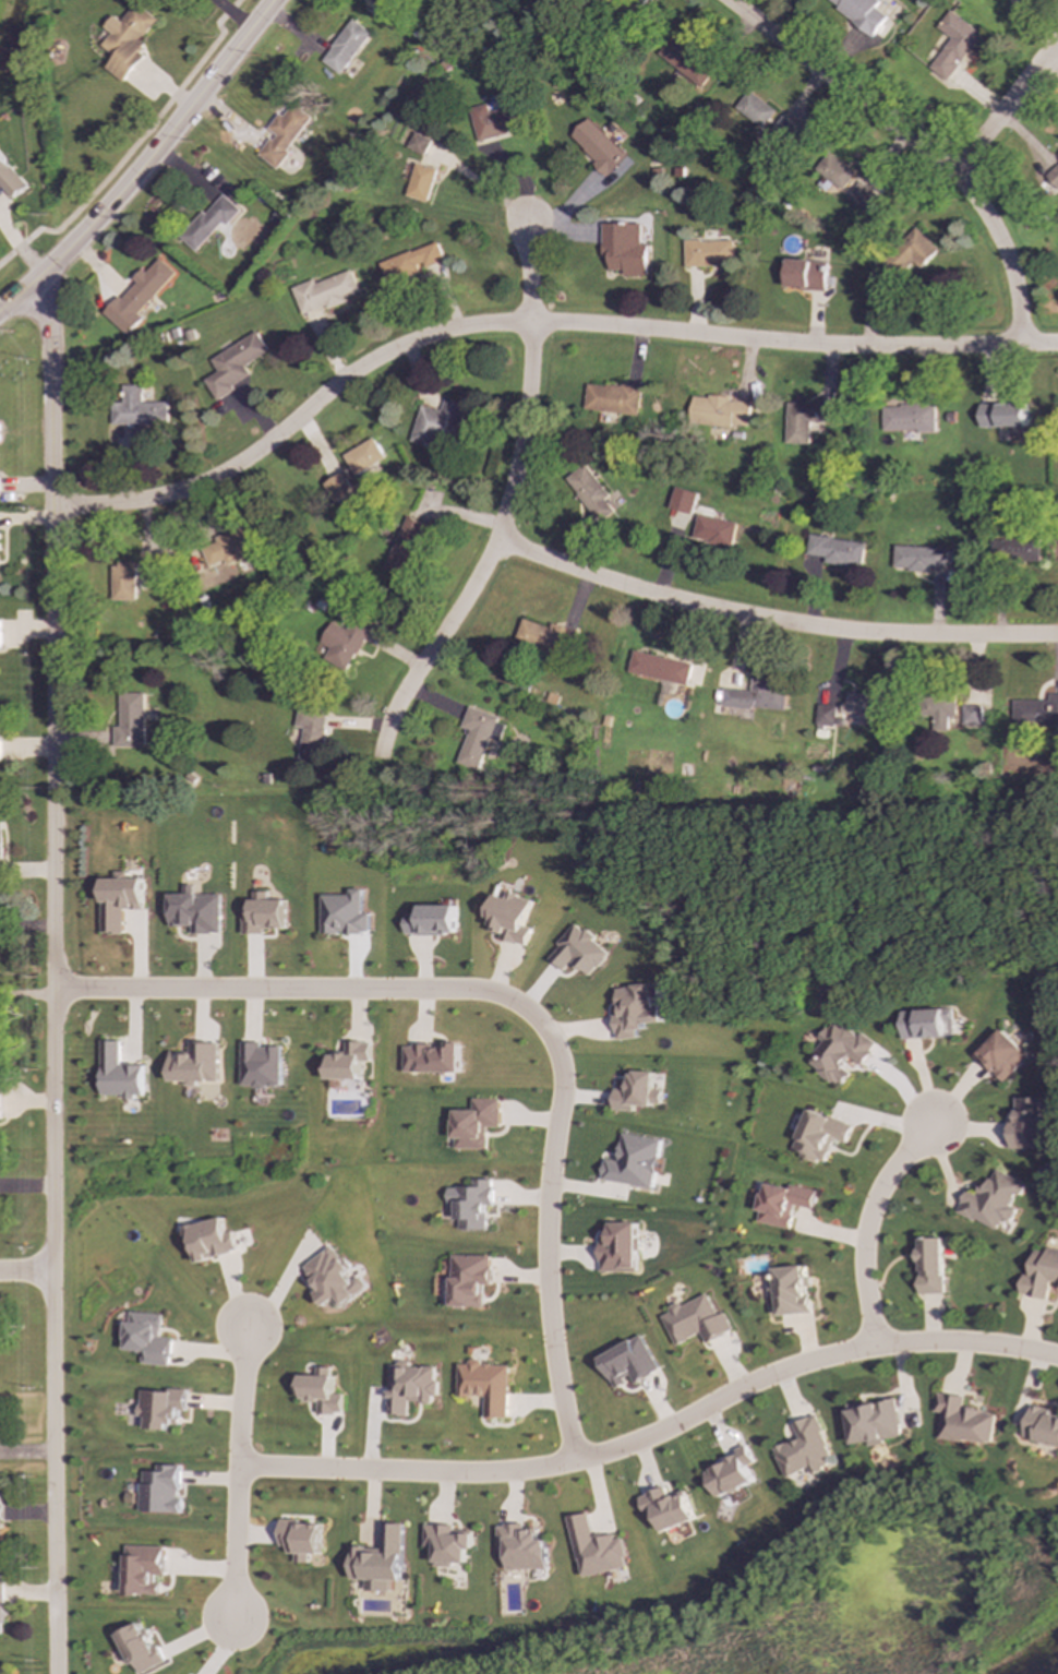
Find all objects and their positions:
road: (233, 13)
building: (861, 13)
building: (128, 40)
building: (953, 46)
building: (346, 47)
building: (686, 61)
building: (755, 109)
road: (1000, 116)
building: (495, 120)
building: (783, 130)
building: (284, 134)
road: (913, 144)
road: (134, 145)
building: (596, 146)
road: (144, 163)
building: (833, 170)
building: (1051, 171)
building: (11, 179)
building: (420, 182)
road: (488, 183)
building: (861, 196)
building: (208, 222)
building: (623, 248)
building: (707, 253)
building: (903, 258)
building: (409, 263)
building: (803, 274)
building: (324, 292)
building: (137, 296)
road: (530, 323)
building: (232, 364)
building: (611, 398)
building: (136, 409)
building: (718, 411)
building: (1001, 415)
building: (906, 418)
building: (805, 419)
building: (436, 423)
building: (362, 456)
building: (338, 488)
building: (590, 493)
building: (682, 500)
road: (505, 507)
building: (713, 530)
building: (0, 542)
building: (405, 547)
building: (224, 549)
building: (1019, 549)
building: (835, 550)
building: (918, 558)
building: (149, 569)
building: (122, 582)
road: (770, 619)
building: (0, 632)
building: (545, 637)
building: (344, 642)
building: (659, 668)
building: (756, 696)
building: (864, 704)
building: (941, 710)
building: (1036, 712)
building: (825, 715)
building: (971, 715)
building: (130, 721)
building: (311, 734)
building: (479, 737)
building: (0, 750)
building: (0, 845)
building: (119, 900)
building: (196, 912)
building: (345, 913)
building: (264, 914)
building: (512, 918)
building: (432, 921)
building: (580, 952)
road: (52, 978)
road: (522, 1004)
building: (637, 1009)
building: (928, 1024)
building: (841, 1052)
building: (1002, 1055)
building: (433, 1057)
building: (349, 1061)
building: (196, 1063)
building: (261, 1065)
building: (120, 1073)
building: (638, 1092)
building: (0, 1099)
building: (478, 1123)
building: (1029, 1124)
building: (821, 1136)
building: (636, 1161)
building: (994, 1200)
building: (474, 1204)
building: (784, 1204)
road: (867, 1223)
building: (212, 1239)
building: (621, 1247)
building: (933, 1266)
road: (26, 1272)
building: (1042, 1275)
building: (334, 1279)
building: (471, 1279)
building: (794, 1291)
building: (697, 1320)
building: (148, 1338)
building: (630, 1363)
building: (410, 1386)
building: (488, 1386)
building: (322, 1394)
building: (163, 1408)
building: (965, 1420)
building: (875, 1422)
building: (1043, 1426)
road: (656, 1430)
building: (807, 1450)
road: (240, 1472)
building: (733, 1473)
building: (163, 1490)
building: (670, 1507)
building: (1, 1508)
building: (301, 1539)
building: (449, 1544)
building: (525, 1547)
building: (598, 1549)
building: (382, 1559)
building: (144, 1569)
building: (1, 1610)
building: (141, 1649)
building: (0, 1672)

